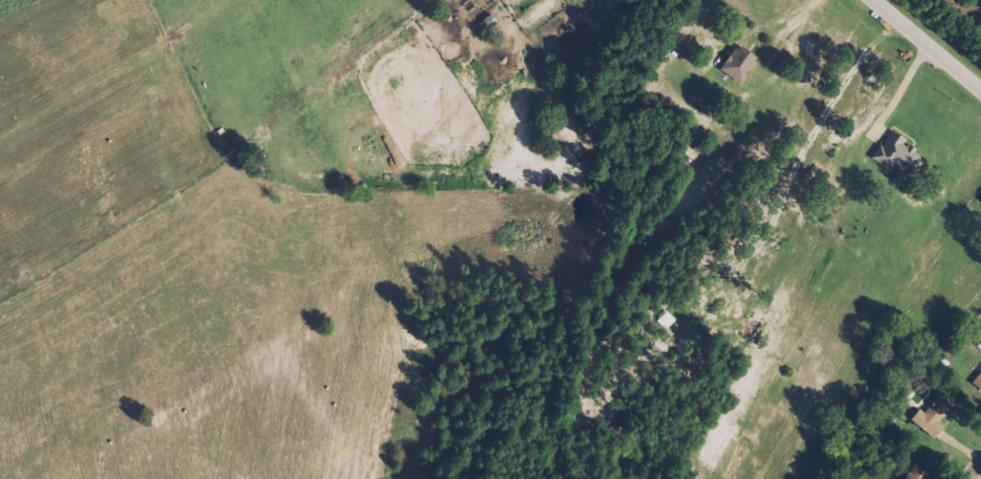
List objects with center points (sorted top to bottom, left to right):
road: (930, 41)
building: (740, 66)
building: (900, 154)
building: (978, 381)
building: (936, 415)
road: (977, 475)

